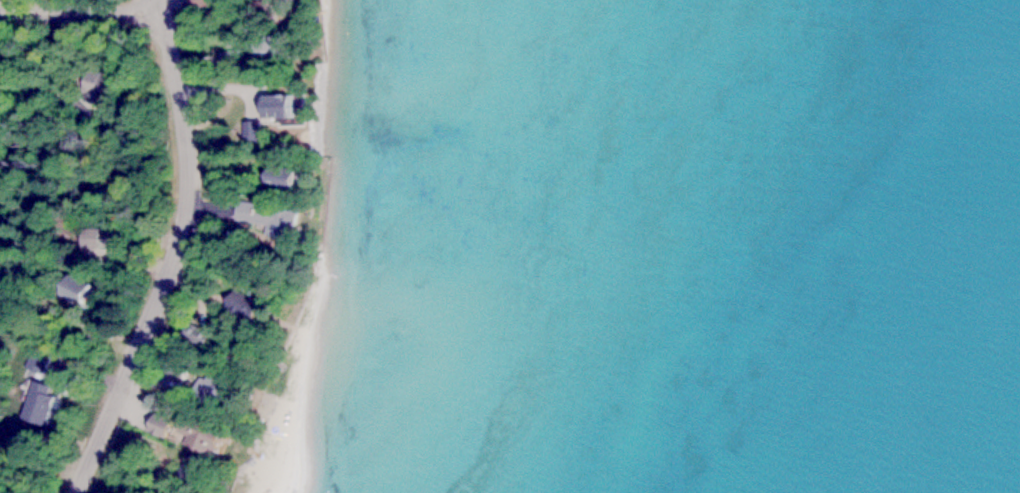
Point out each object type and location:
road: (77, 12)
building: (263, 48)
building: (93, 86)
building: (77, 108)
building: (276, 175)
building: (264, 217)
building: (105, 237)
road: (171, 254)
building: (76, 290)
building: (193, 334)
building: (36, 358)
building: (177, 367)
building: (210, 388)
building: (31, 401)
building: (156, 422)
building: (191, 426)
building: (189, 469)

